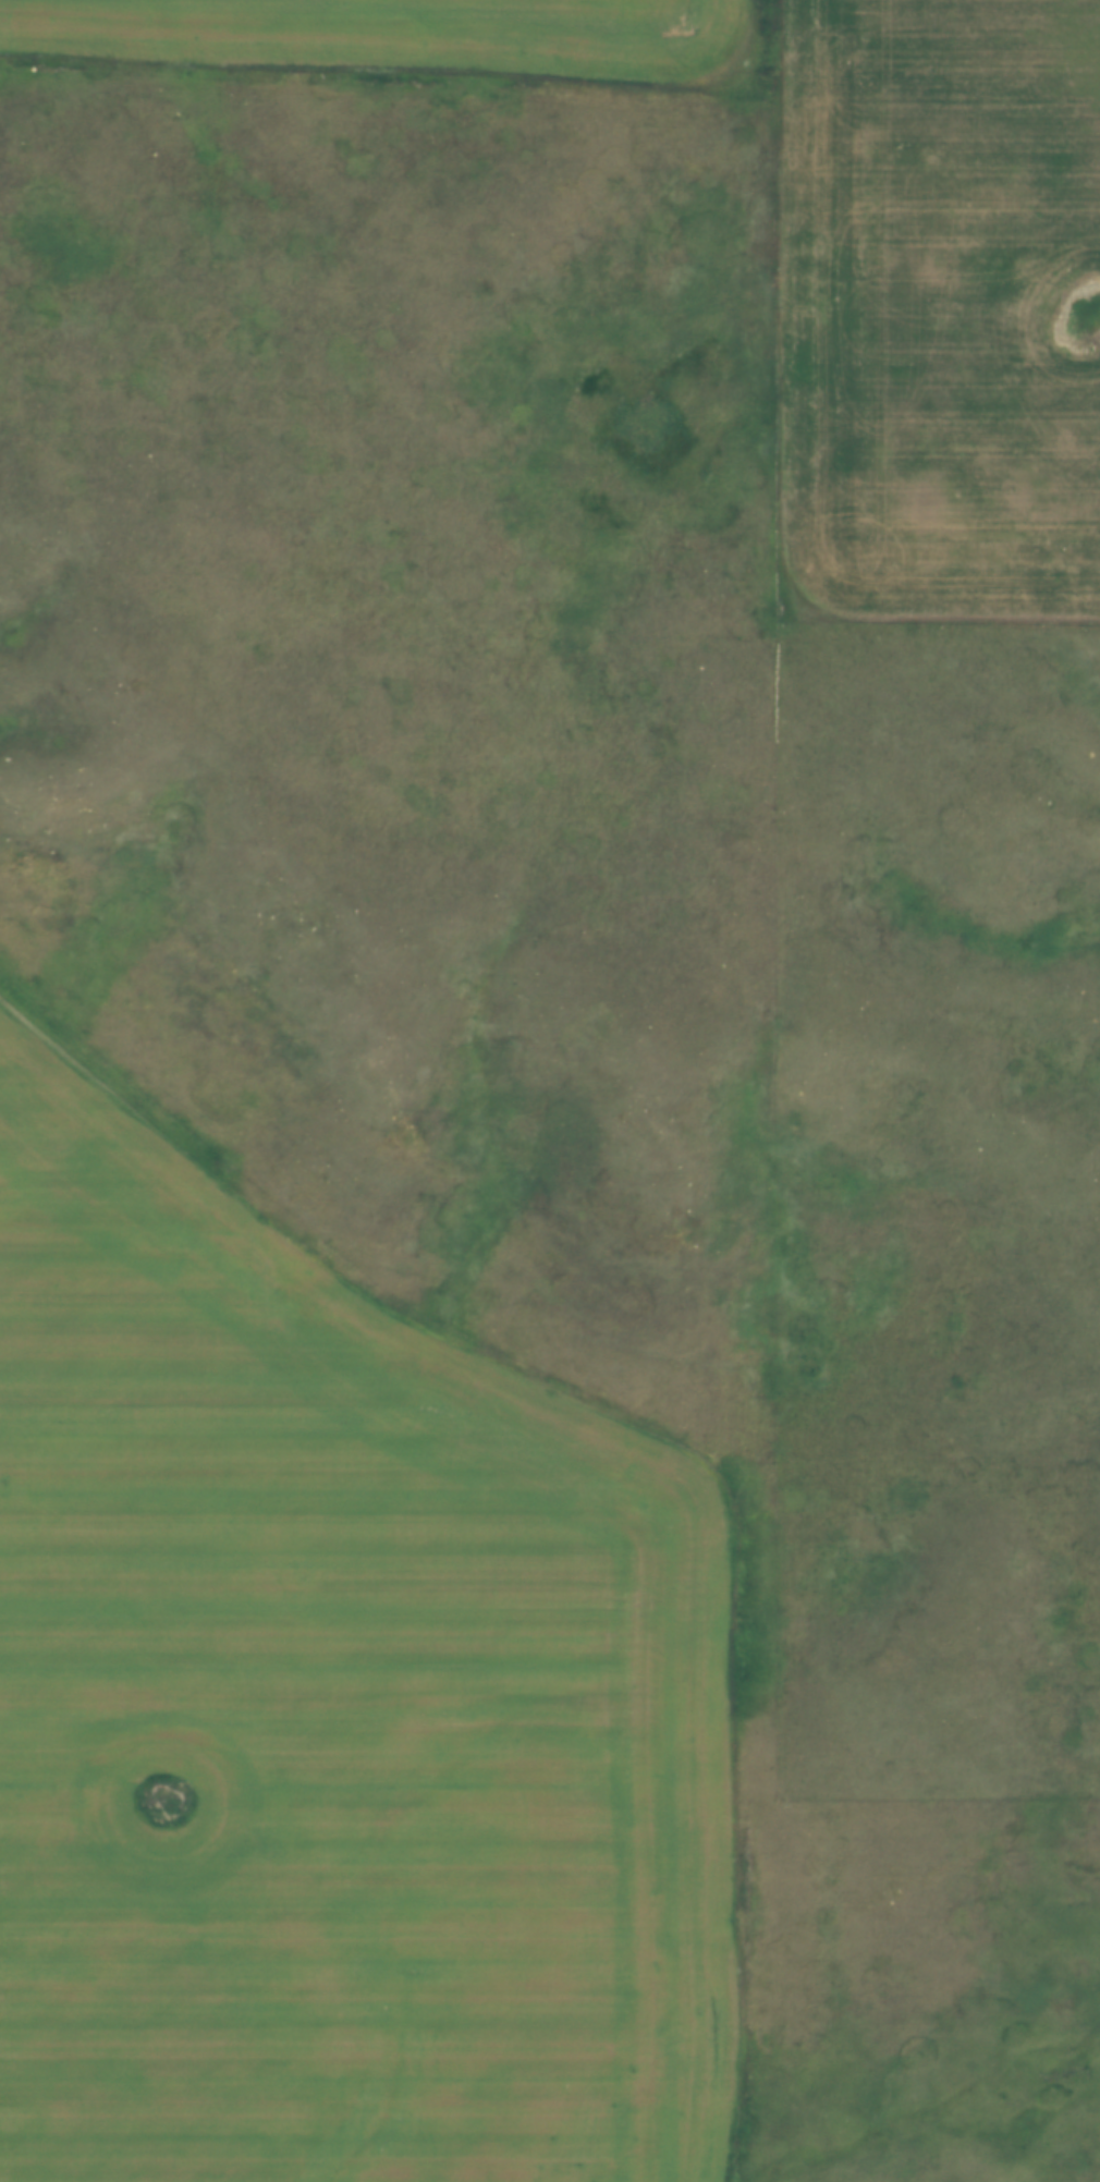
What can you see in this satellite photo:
road: (936, 1803)

